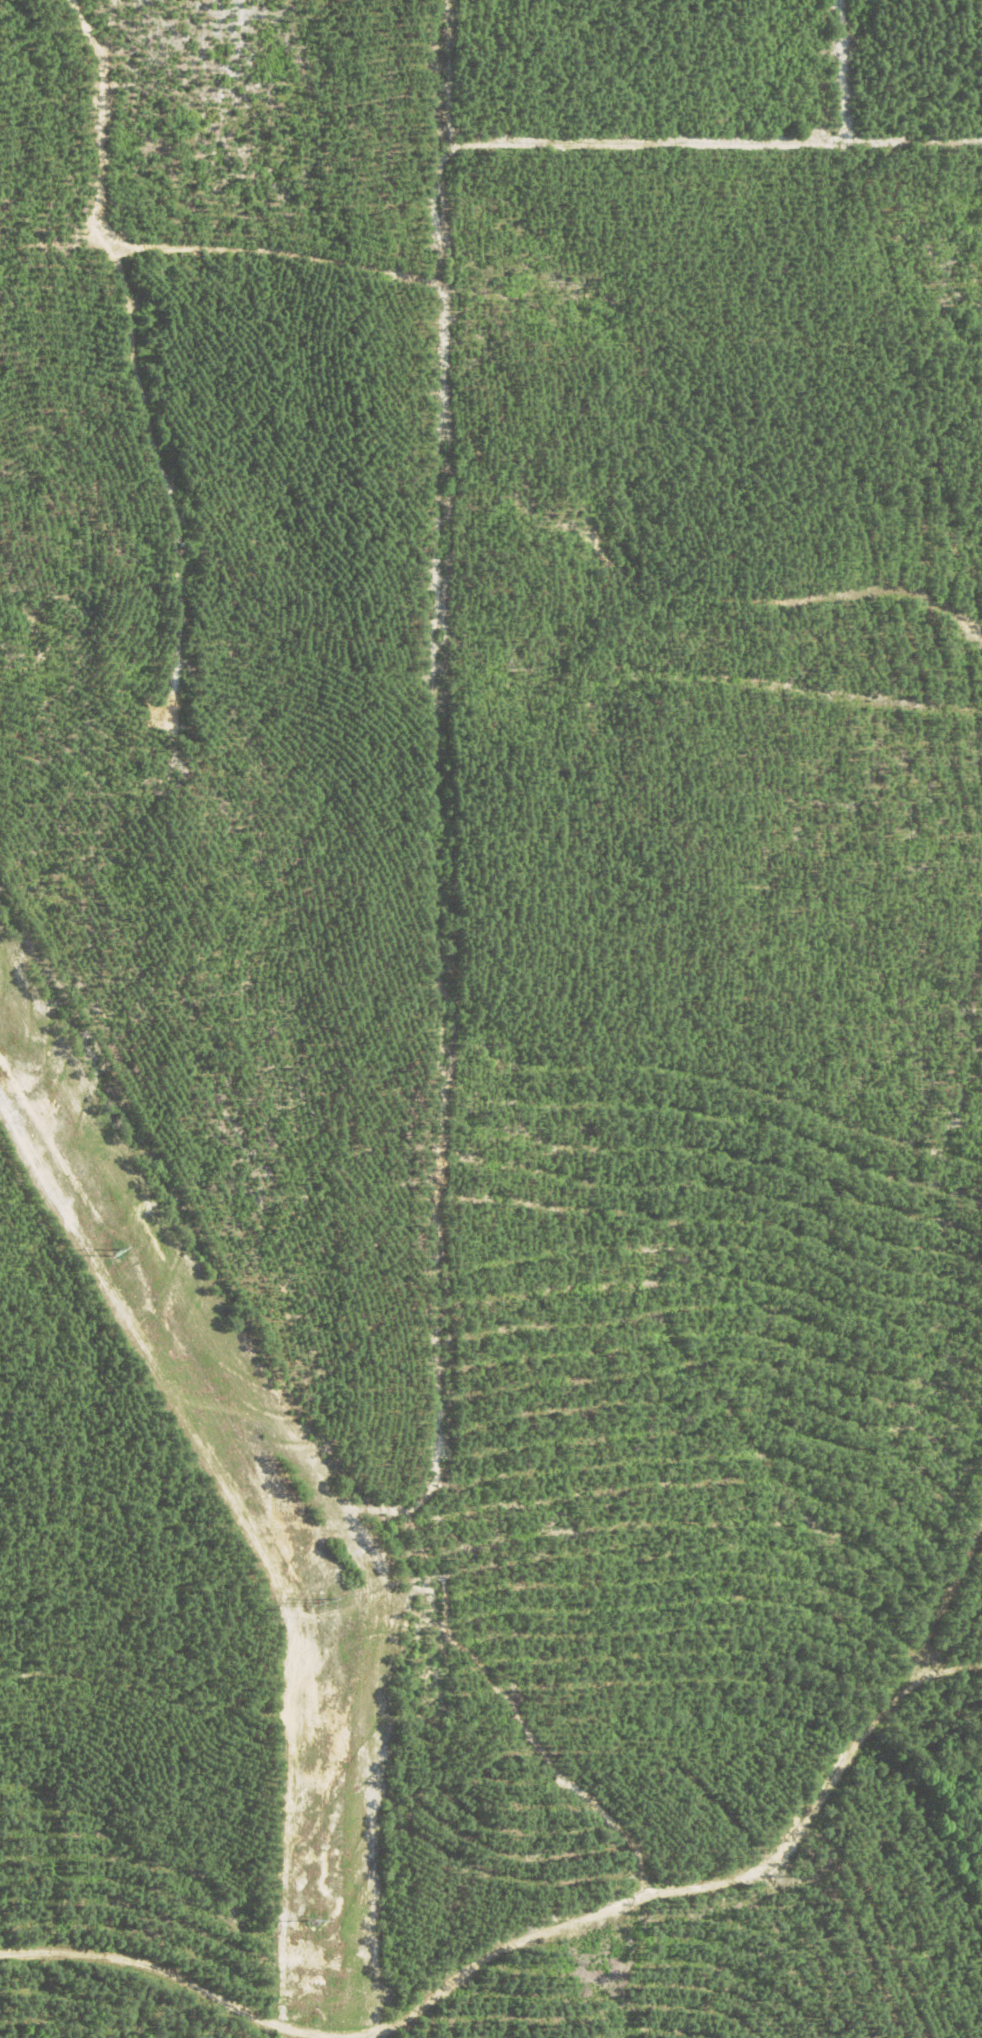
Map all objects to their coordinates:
road: (108, 120)
road: (492, 290)
road: (540, 1972)

